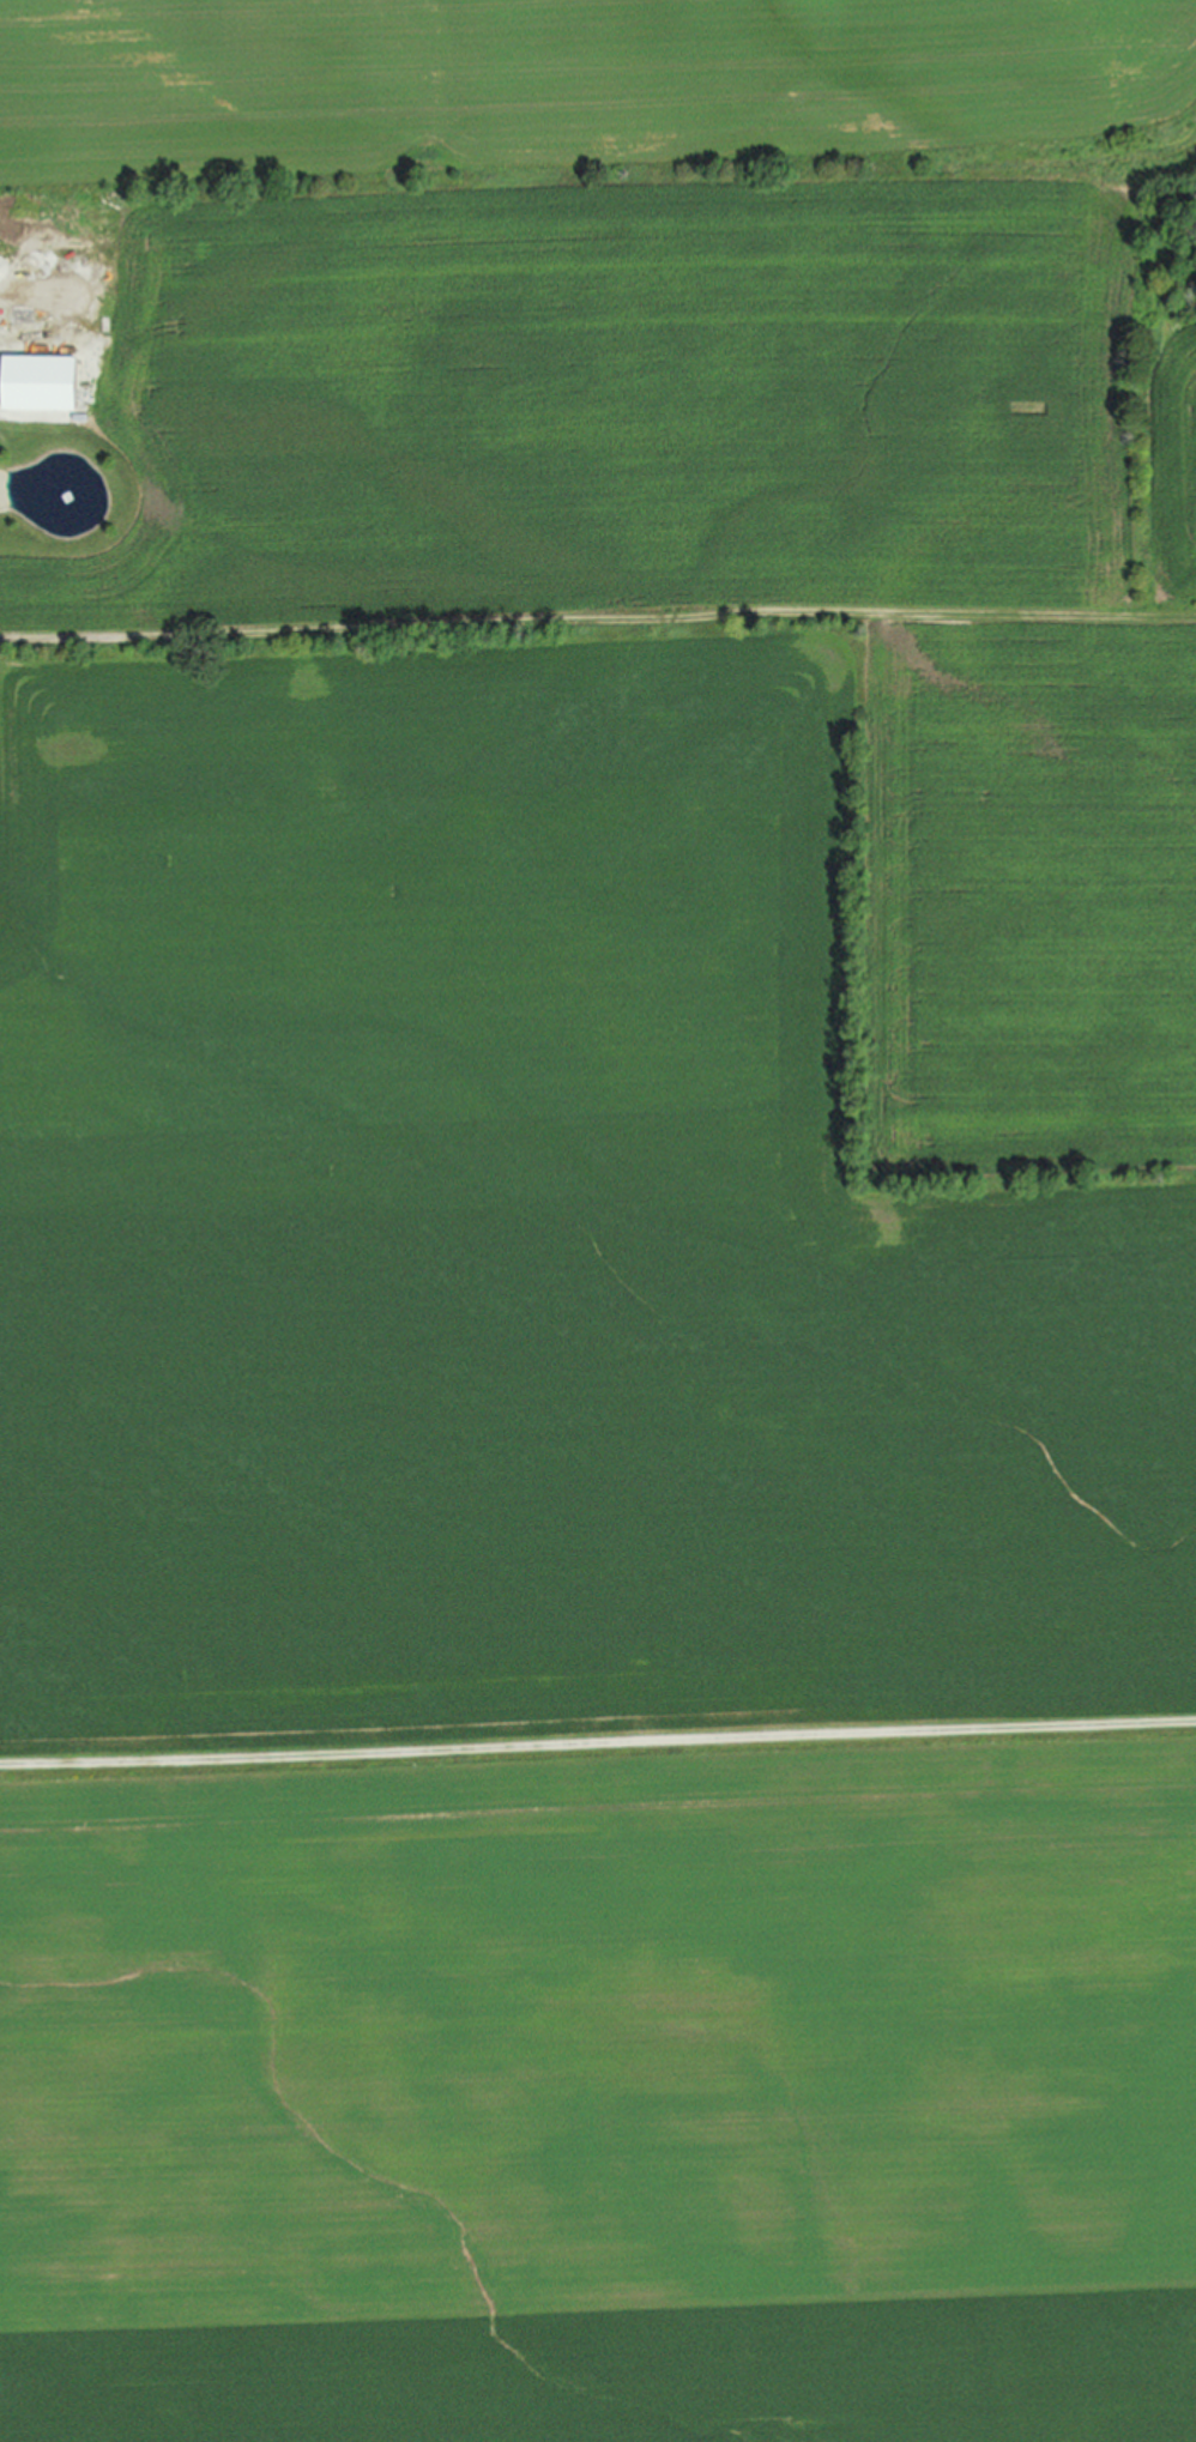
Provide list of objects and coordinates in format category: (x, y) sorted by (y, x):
building: (41, 382)
road: (597, 623)
road: (598, 1743)

